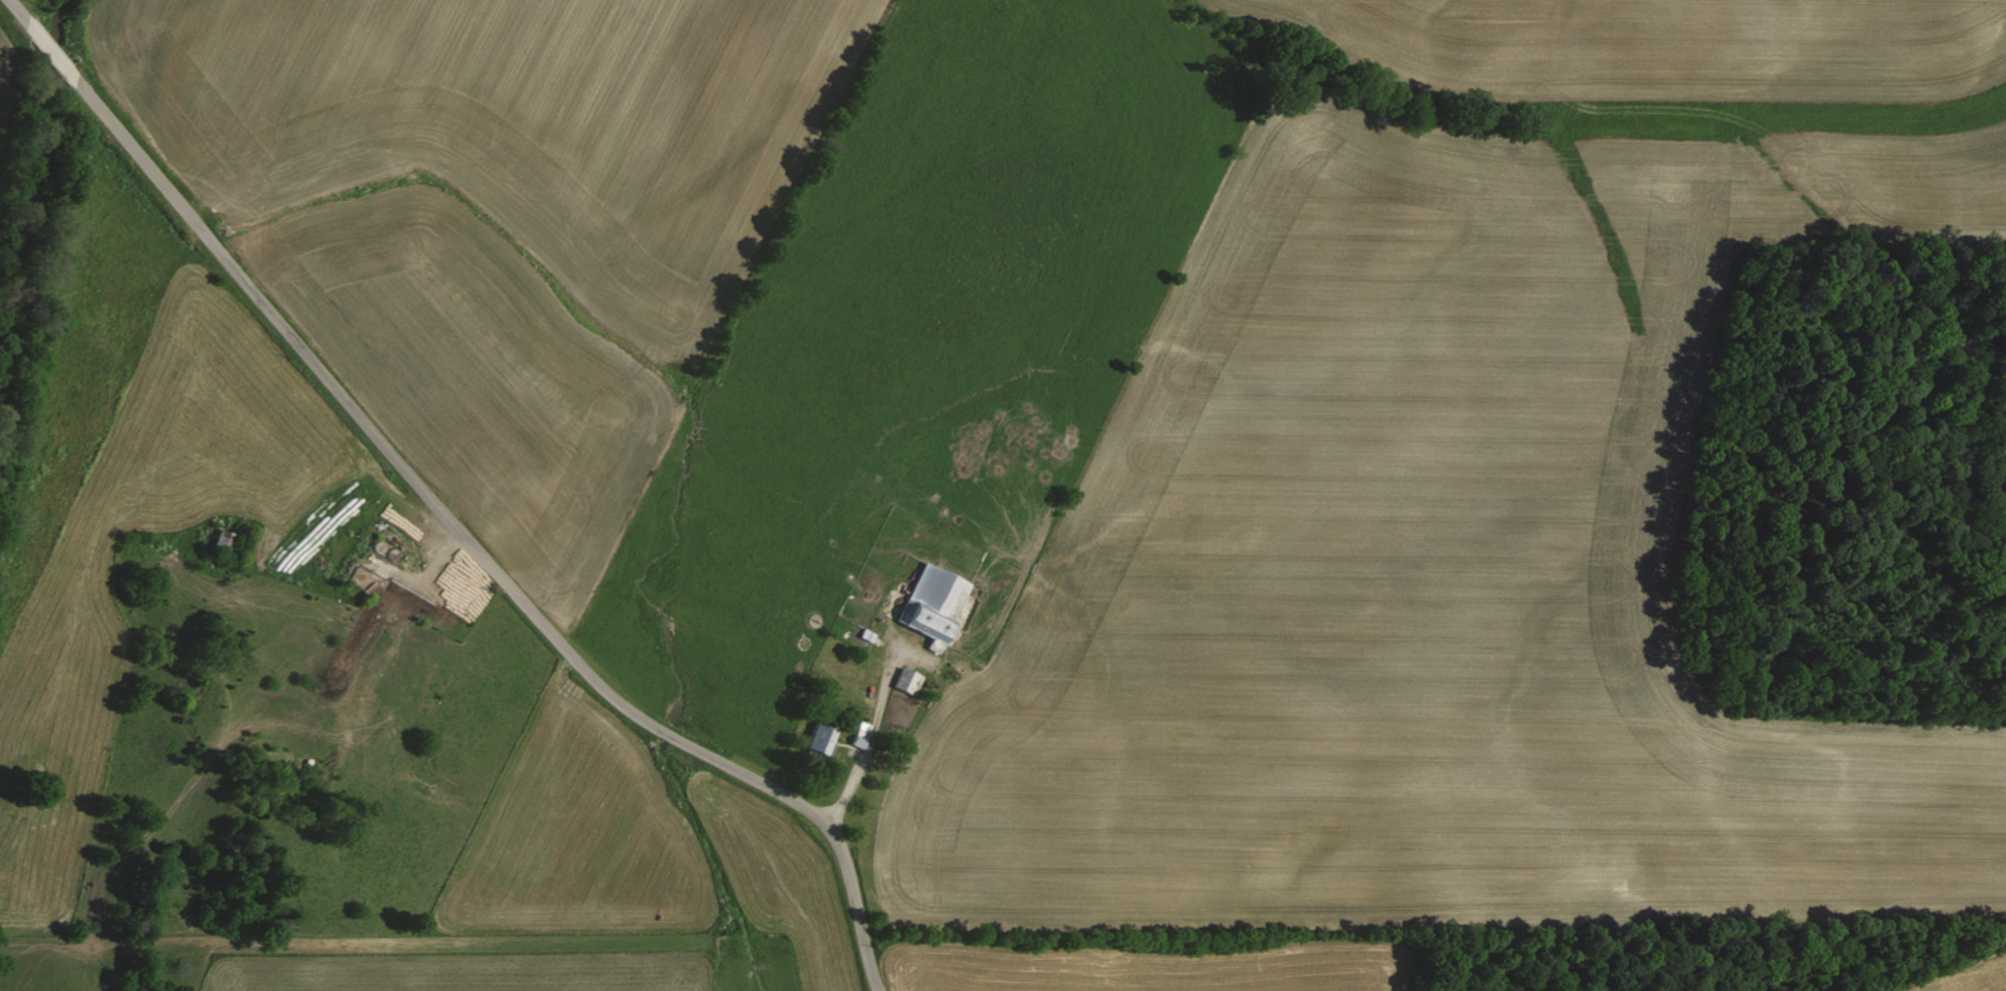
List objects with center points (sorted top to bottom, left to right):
road: (24, 9)
road: (57, 49)
river: (41, 228)
road: (479, 556)
building: (937, 605)
building: (909, 680)
building: (425, 734)
building: (862, 734)
building: (823, 739)
road: (865, 751)

